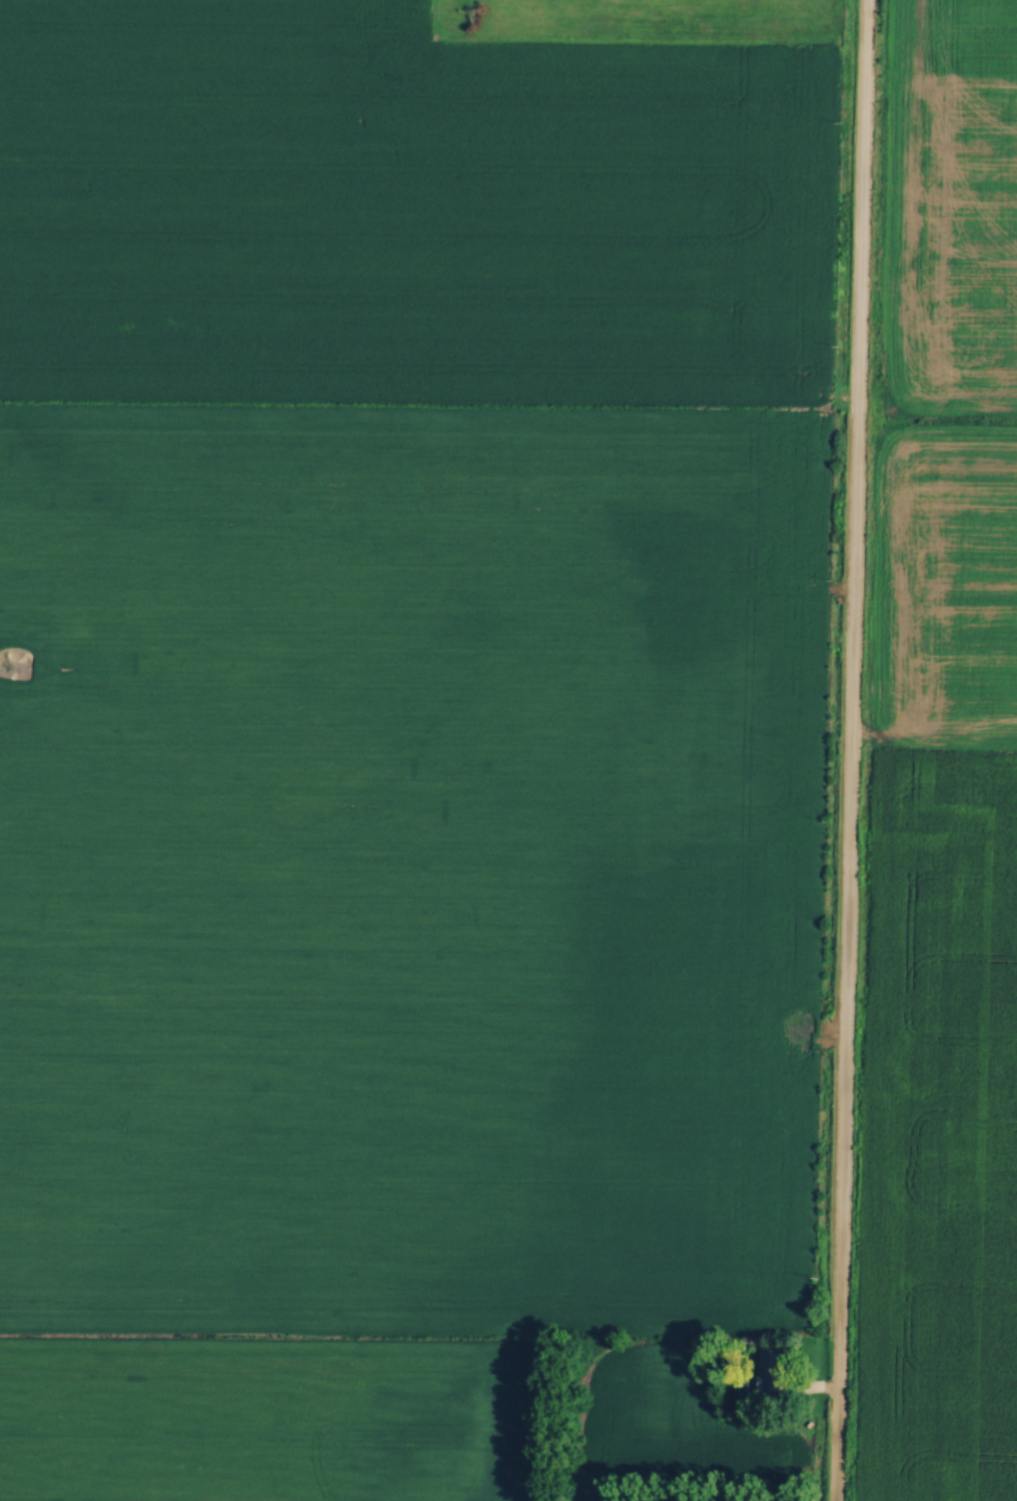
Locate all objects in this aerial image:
road: (854, 750)
building: (770, 1365)
building: (612, 1496)

